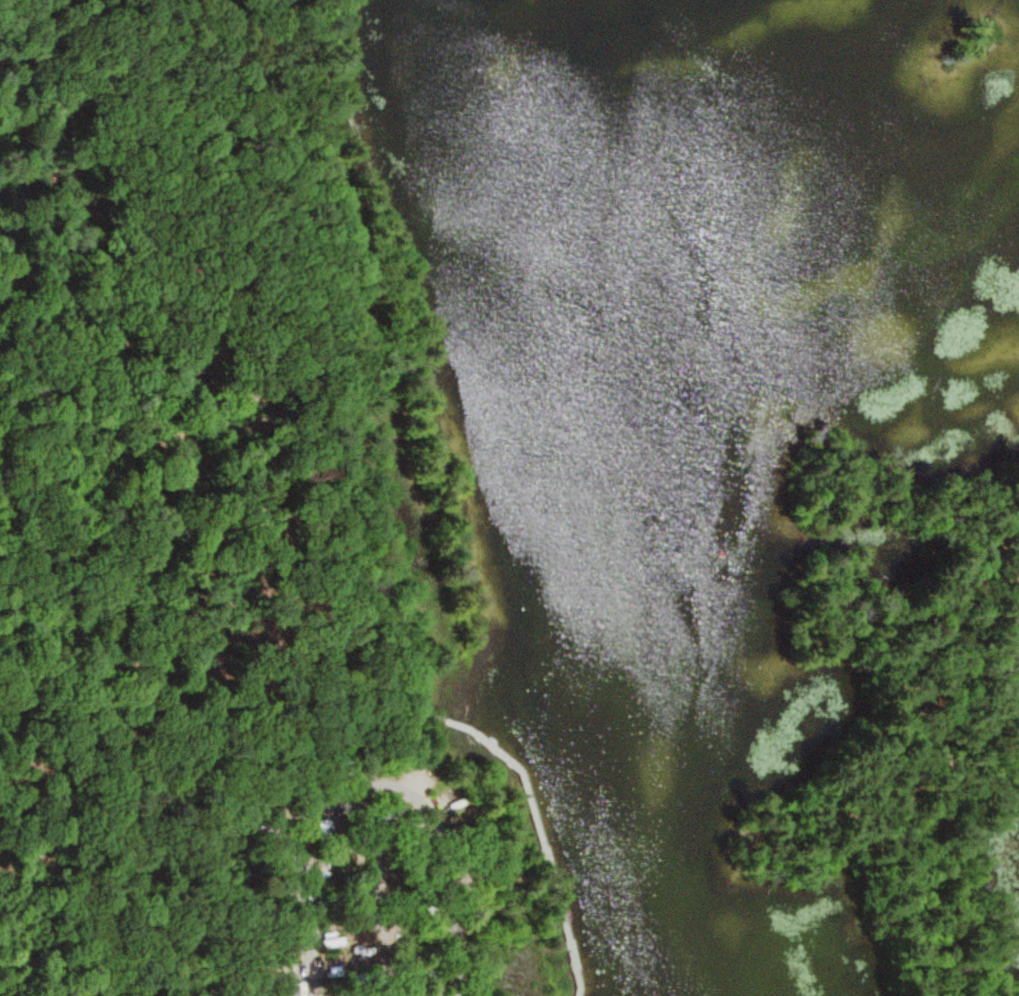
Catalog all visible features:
road: (342, 353)
road: (153, 436)
park: (509, 498)
road: (378, 732)
road: (934, 763)
road: (373, 783)
road: (535, 821)
road: (375, 893)
building: (283, 990)

